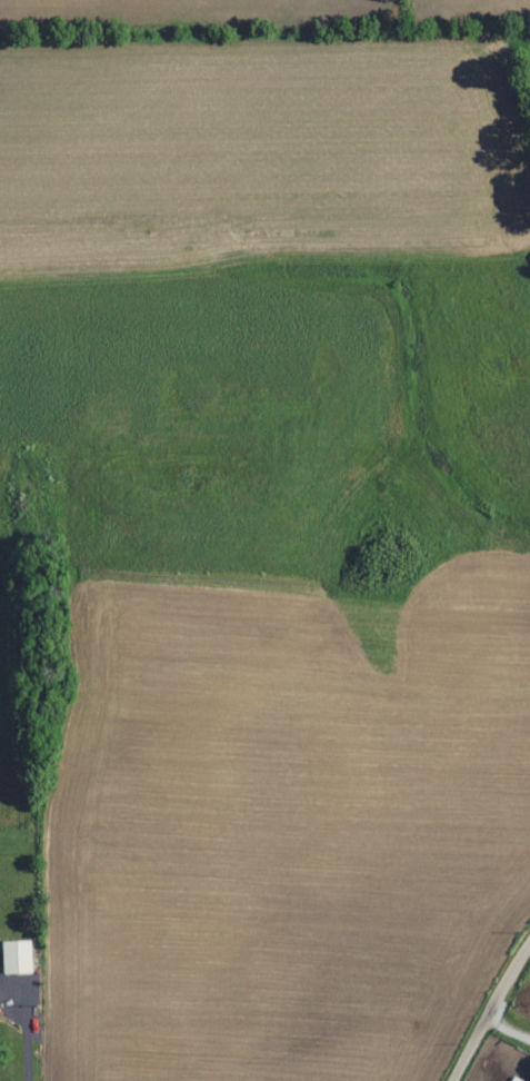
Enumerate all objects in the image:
building: (20, 956)
road: (489, 1010)
building: (1, 1011)
road: (507, 1029)
road: (27, 1034)

